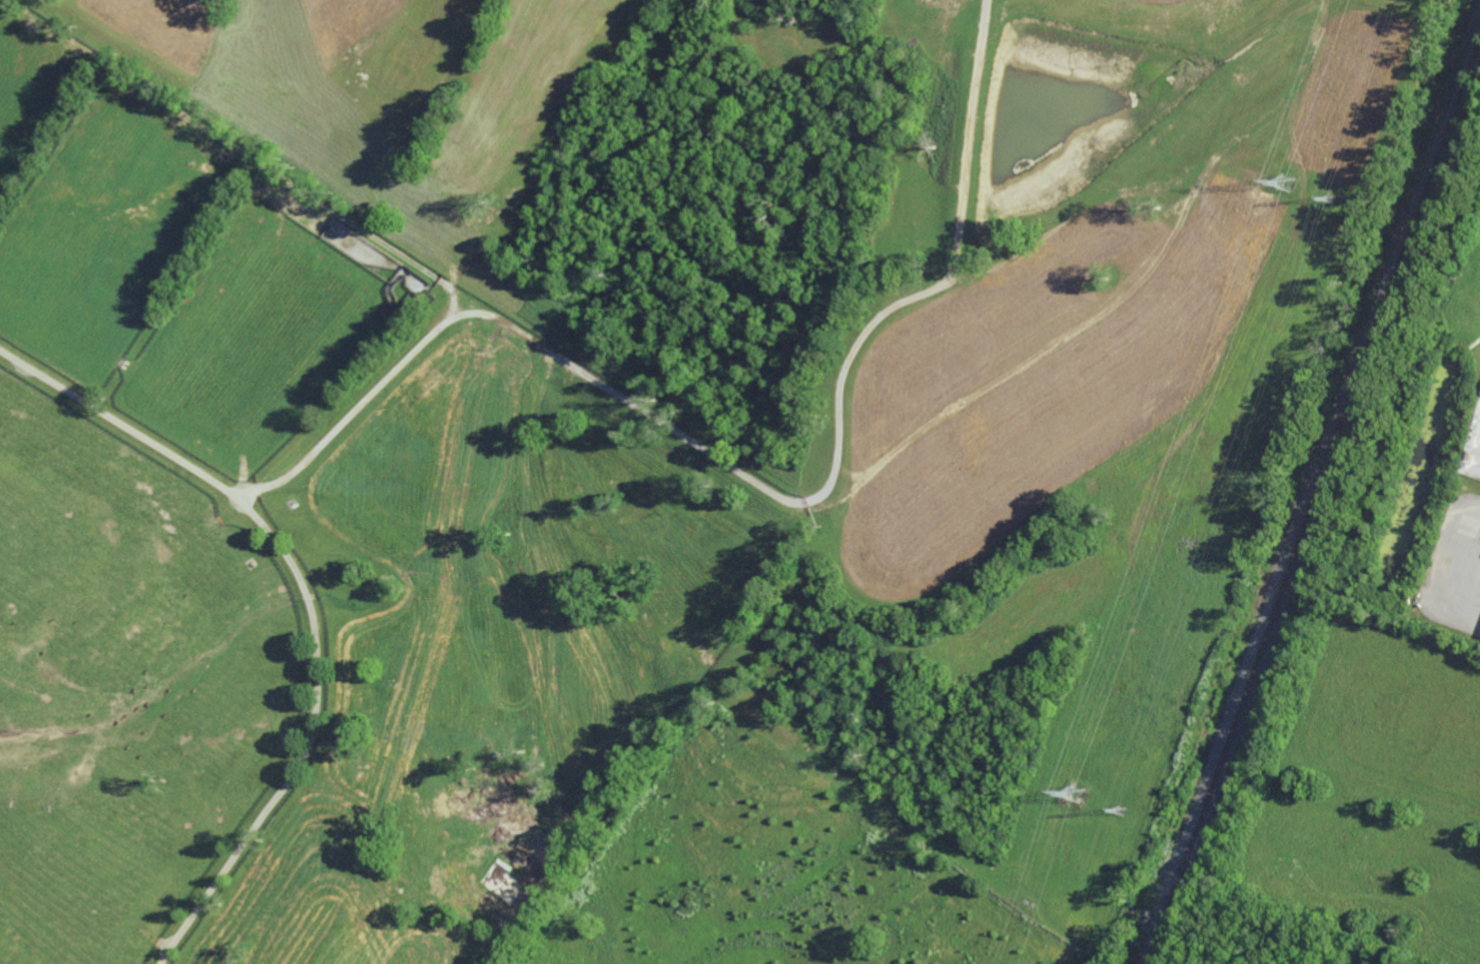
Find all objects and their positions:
power tower: (1288, 180)
power tower: (1333, 199)
road: (750, 479)
railway: (1315, 495)
road: (1465, 541)
road: (309, 601)
power tower: (1079, 803)
power tower: (1122, 820)

